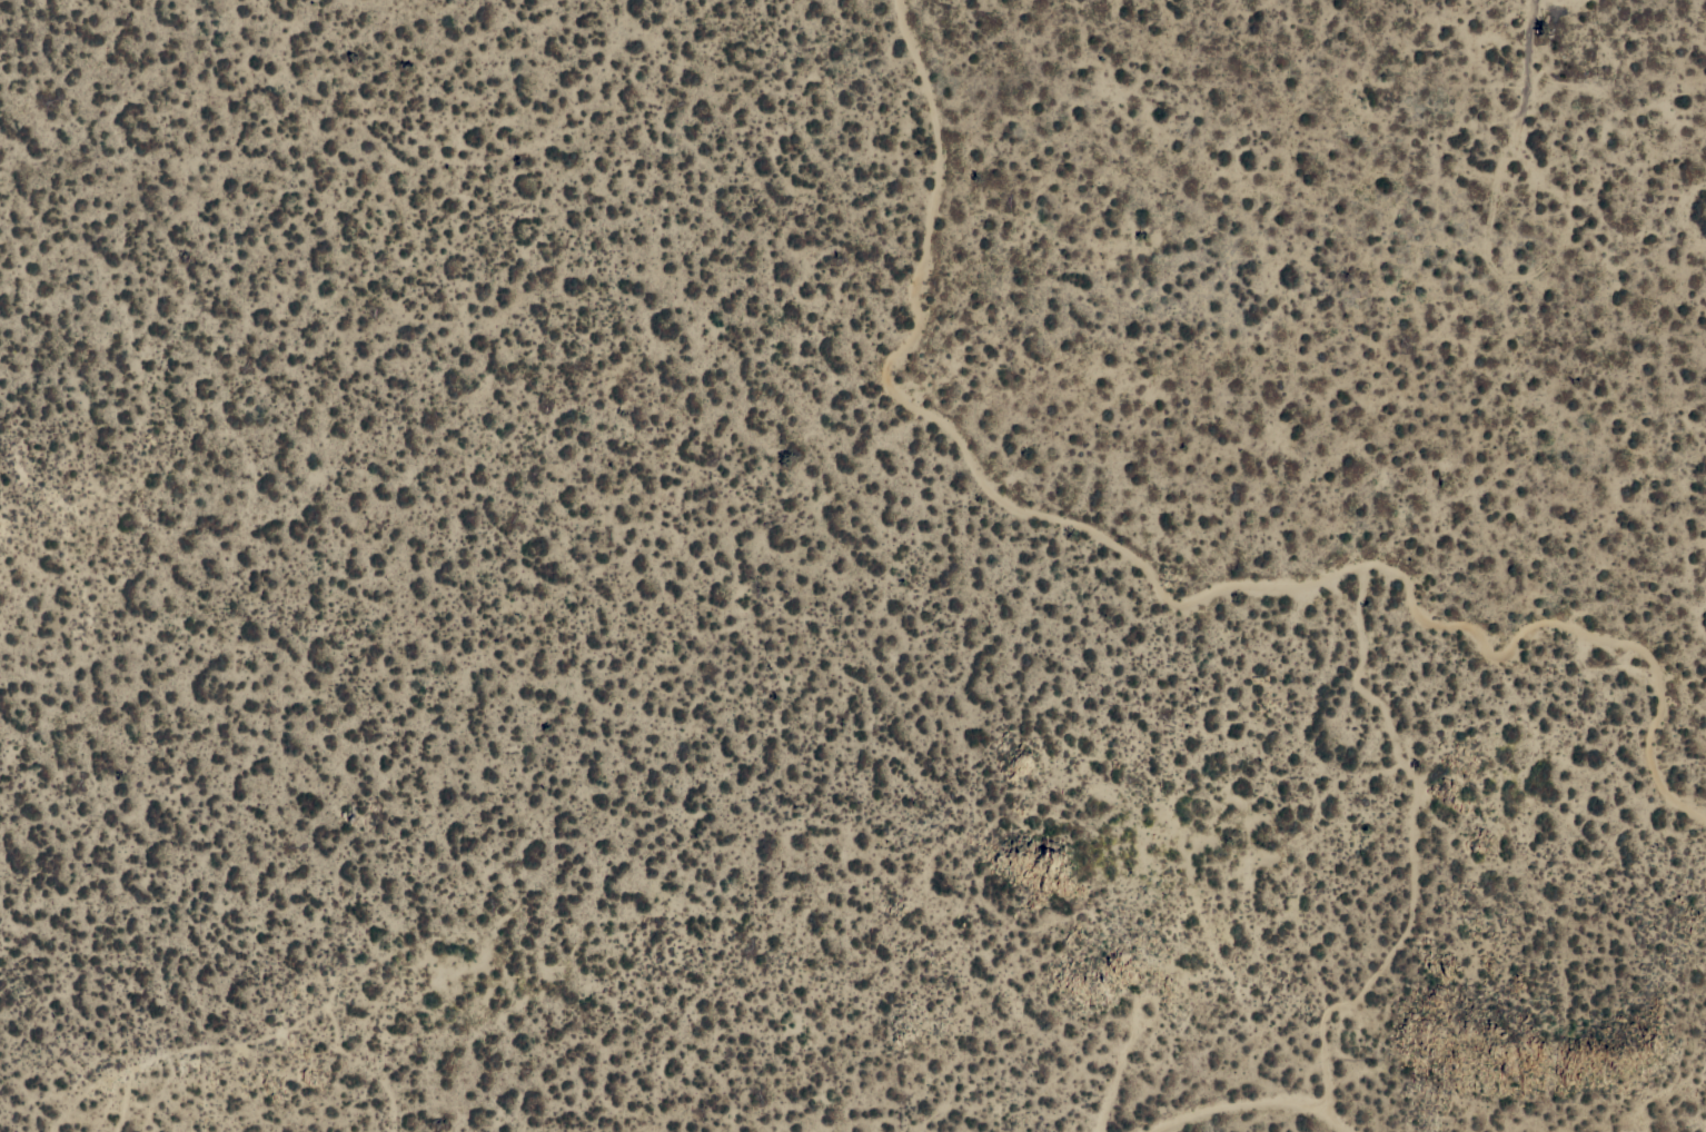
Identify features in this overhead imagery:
road: (1166, 588)
road: (1263, 1101)

